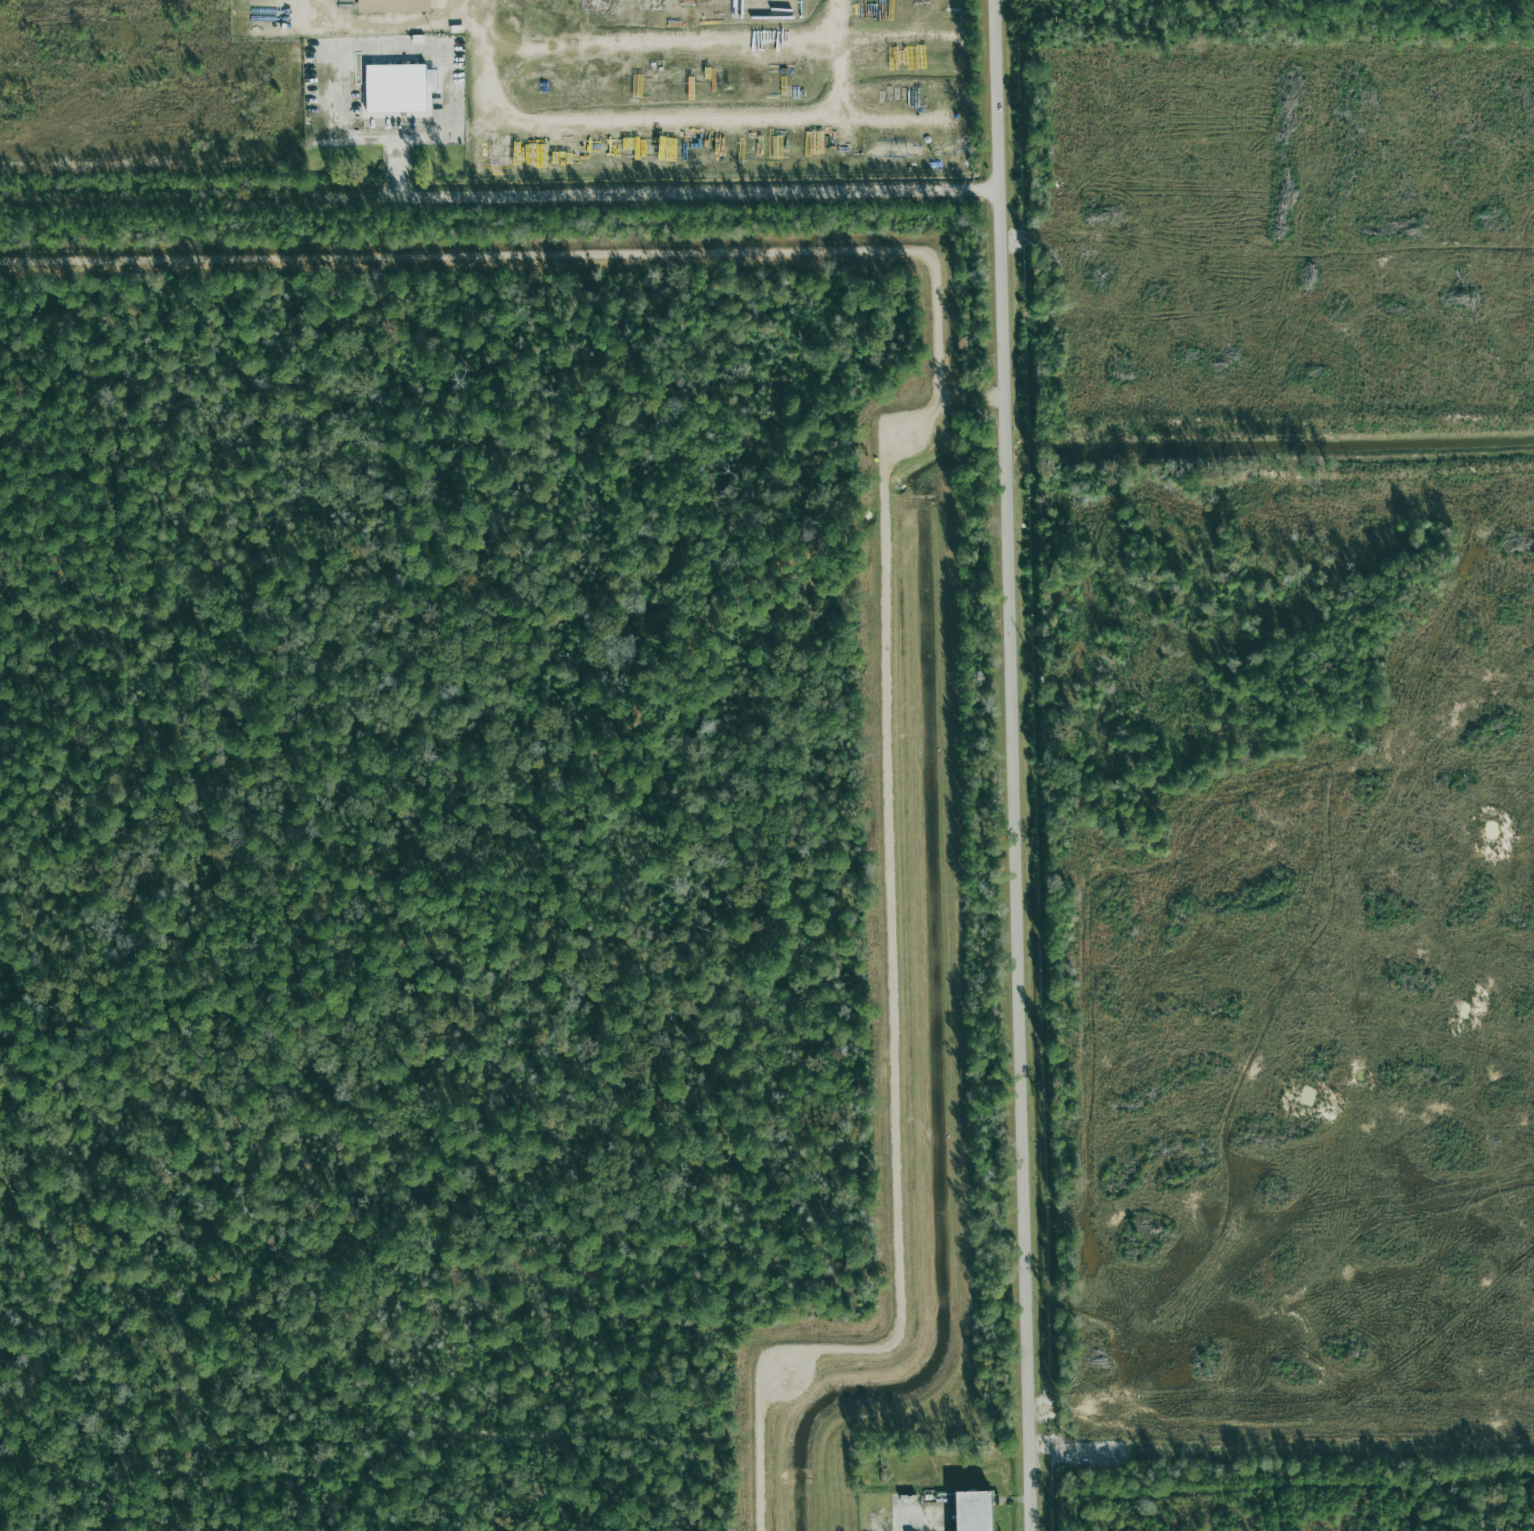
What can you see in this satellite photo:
building: (388, 6)
road: (484, 13)
road: (371, 22)
road: (701, 41)
building: (442, 74)
road: (841, 84)
building: (391, 88)
road: (713, 118)
road: (450, 137)
road: (777, 164)
road: (397, 167)
road: (663, 195)
road: (889, 467)
road: (1018, 765)
building: (966, 1511)

